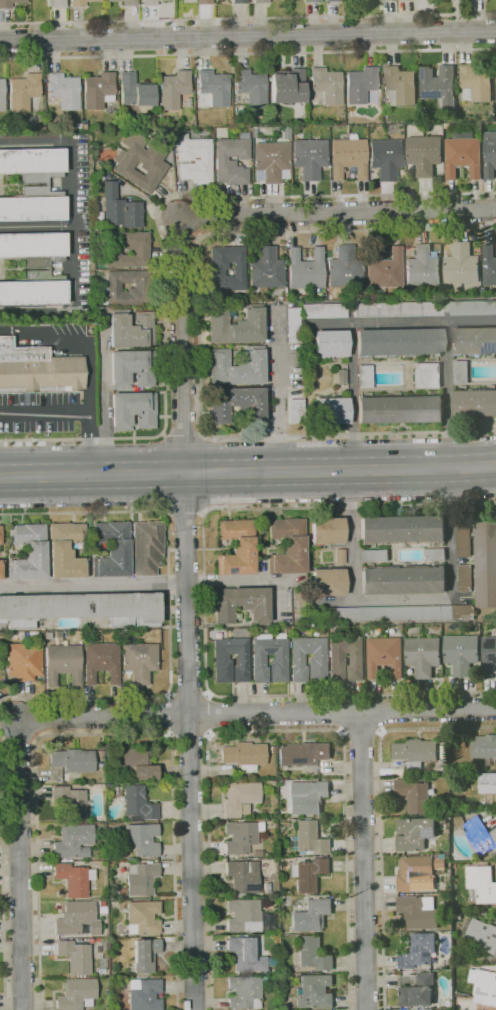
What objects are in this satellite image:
building: (377, 0)
building: (387, 0)
building: (261, 1)
building: (312, 1)
building: (333, 1)
building: (80, 2)
building: (125, 2)
building: (151, 2)
building: (204, 2)
building: (239, 2)
building: (9, 3)
building: (58, 3)
road: (248, 19)
road: (248, 41)
road: (248, 53)
building: (476, 83)
building: (360, 84)
building: (495, 84)
building: (326, 85)
building: (438, 85)
building: (287, 86)
building: (400, 86)
building: (214, 87)
building: (251, 87)
building: (173, 89)
building: (98, 90)
building: (64, 91)
building: (135, 91)
building: (23, 92)
building: (2, 95)
building: (186, 102)
building: (165, 120)
building: (447, 125)
building: (427, 126)
building: (254, 132)
building: (424, 154)
building: (490, 154)
building: (463, 155)
building: (309, 157)
building: (347, 157)
building: (386, 158)
building: (194, 159)
building: (231, 159)
building: (140, 160)
building: (270, 161)
building: (46, 185)
building: (119, 208)
road: (338, 213)
road: (36, 226)
road: (73, 227)
road: (159, 230)
building: (126, 249)
building: (461, 265)
building: (489, 265)
building: (422, 267)
building: (266, 268)
building: (344, 268)
building: (382, 268)
building: (47, 269)
building: (305, 269)
building: (213, 272)
building: (138, 289)
building: (275, 292)
building: (426, 308)
building: (325, 310)
road: (403, 320)
building: (236, 324)
building: (292, 325)
building: (131, 329)
road: (15, 331)
road: (199, 333)
building: (474, 340)
building: (398, 342)
building: (330, 343)
road: (88, 346)
building: (236, 367)
building: (131, 368)
building: (37, 370)
building: (460, 372)
building: (426, 375)
building: (364, 376)
building: (341, 377)
road: (278, 397)
road: (449, 400)
road: (353, 402)
building: (474, 403)
building: (237, 404)
building: (132, 410)
building: (295, 410)
building: (331, 410)
building: (400, 410)
road: (68, 413)
road: (184, 438)
road: (248, 461)
road: (248, 485)
road: (184, 511)
building: (402, 529)
building: (327, 531)
building: (0, 534)
building: (463, 538)
building: (287, 546)
building: (147, 547)
building: (237, 547)
building: (111, 549)
building: (66, 550)
building: (28, 551)
building: (435, 554)
building: (374, 555)
building: (339, 556)
building: (485, 562)
building: (2, 569)
building: (464, 577)
building: (403, 579)
building: (327, 582)
road: (93, 583)
road: (205, 601)
building: (241, 603)
road: (168, 606)
building: (82, 608)
road: (187, 613)
building: (392, 613)
building: (461, 653)
building: (422, 655)
building: (384, 656)
building: (488, 656)
building: (279, 657)
building: (308, 659)
building: (345, 659)
building: (230, 660)
building: (23, 661)
building: (101, 661)
building: (139, 661)
building: (62, 663)
road: (188, 694)
road: (256, 713)
road: (341, 713)
road: (380, 713)
road: (172, 714)
road: (203, 714)
road: (276, 730)
road: (361, 733)
road: (105, 734)
road: (189, 736)
building: (483, 746)
building: (273, 749)
building: (443, 751)
building: (415, 752)
building: (244, 755)
building: (304, 756)
building: (72, 760)
building: (136, 764)
building: (270, 783)
building: (487, 783)
building: (109, 787)
building: (413, 795)
building: (307, 796)
building: (240, 798)
building: (70, 802)
building: (138, 804)
road: (380, 813)
building: (442, 820)
building: (414, 833)
building: (480, 835)
building: (239, 837)
building: (142, 838)
building: (308, 839)
building: (73, 841)
building: (116, 850)
building: (256, 853)
road: (366, 860)
road: (19, 864)
building: (309, 874)
building: (415, 874)
road: (4, 876)
building: (243, 877)
building: (73, 879)
building: (142, 879)
building: (481, 883)
building: (266, 887)
building: (101, 907)
building: (417, 913)
building: (243, 915)
building: (311, 915)
building: (456, 916)
building: (143, 917)
building: (77, 919)
building: (266, 921)
building: (481, 934)
building: (418, 951)
building: (248, 953)
building: (313, 954)
building: (145, 955)
building: (76, 956)
building: (494, 960)
building: (271, 962)
building: (284, 979)
building: (267, 981)
building: (484, 985)
building: (315, 991)
building: (244, 992)
building: (418, 992)
building: (76, 994)
building: (140, 994)
building: (119, 1006)

